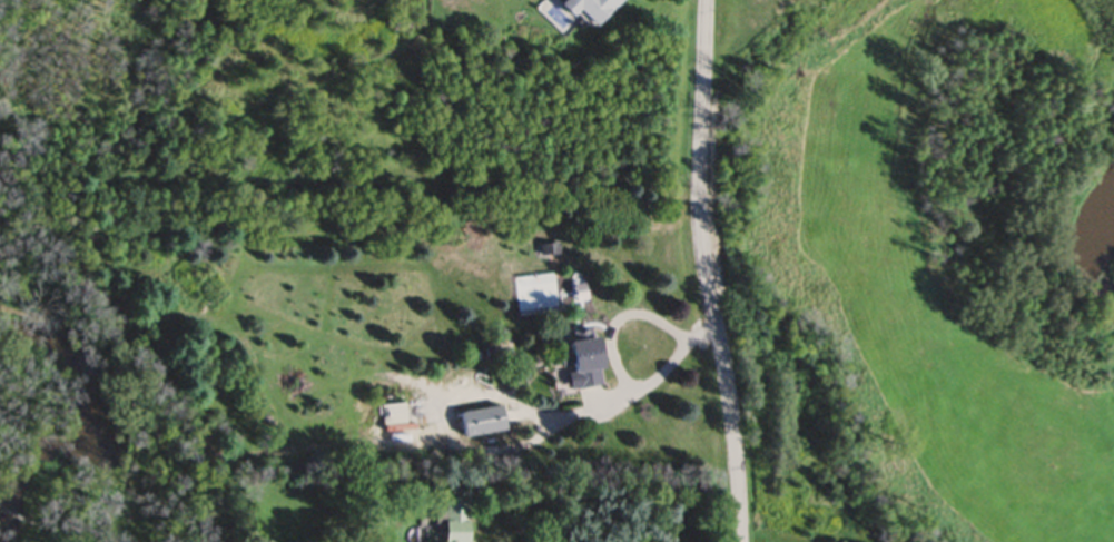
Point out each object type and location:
building: (586, 10)
river: (1101, 262)
road: (703, 272)
building: (579, 366)
building: (390, 415)
building: (480, 423)
river: (86, 430)
building: (452, 522)

